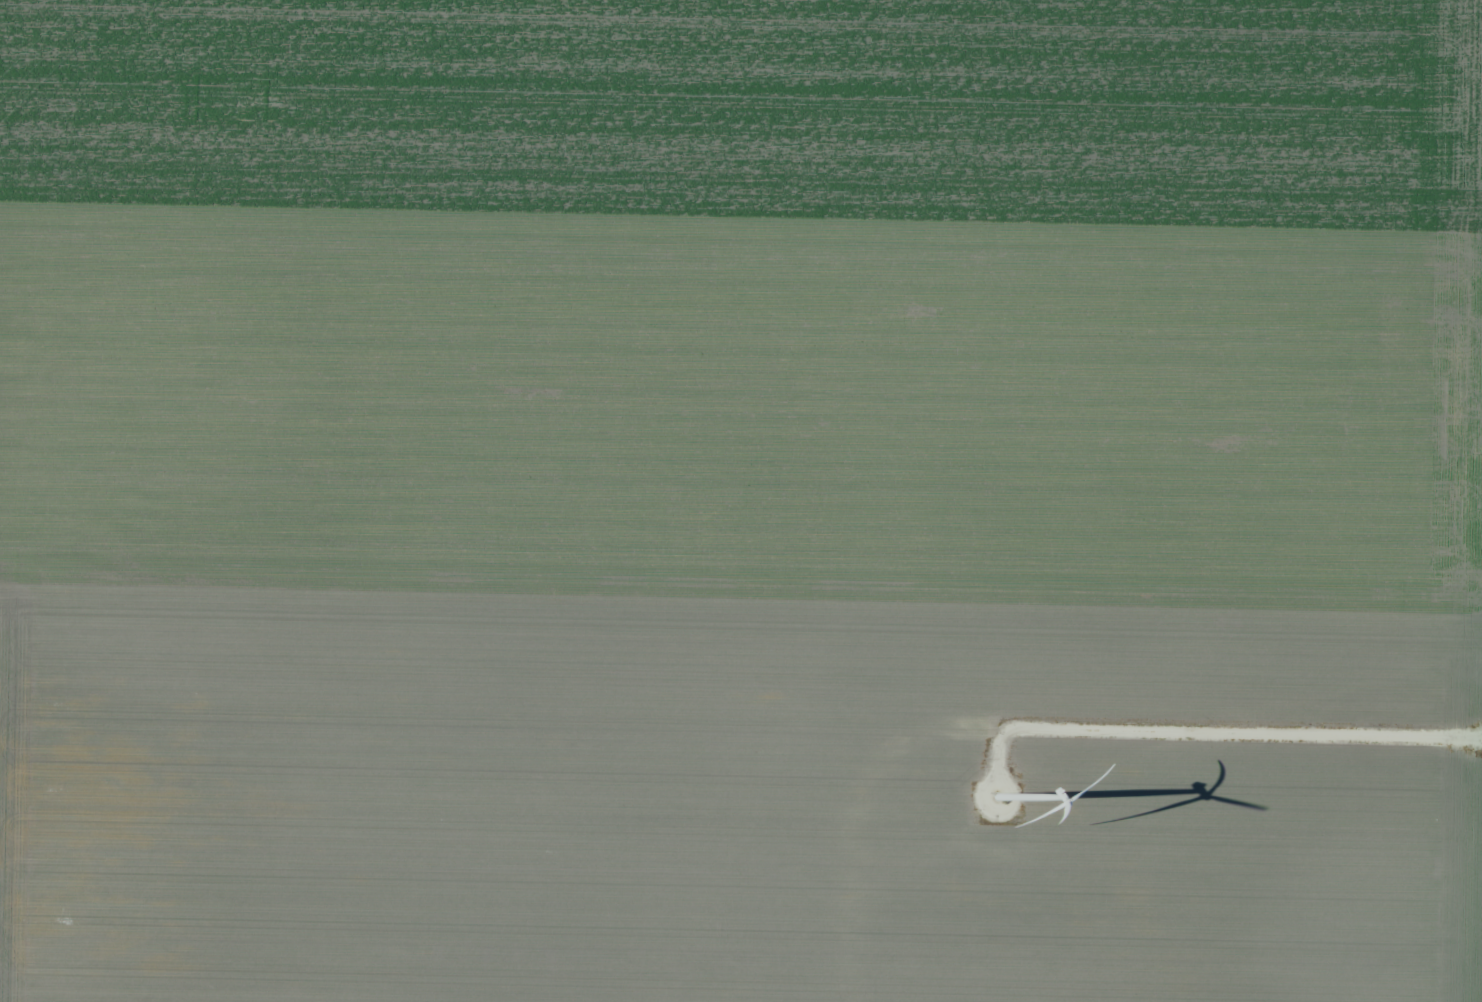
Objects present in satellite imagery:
wind turbine: (980, 812)

